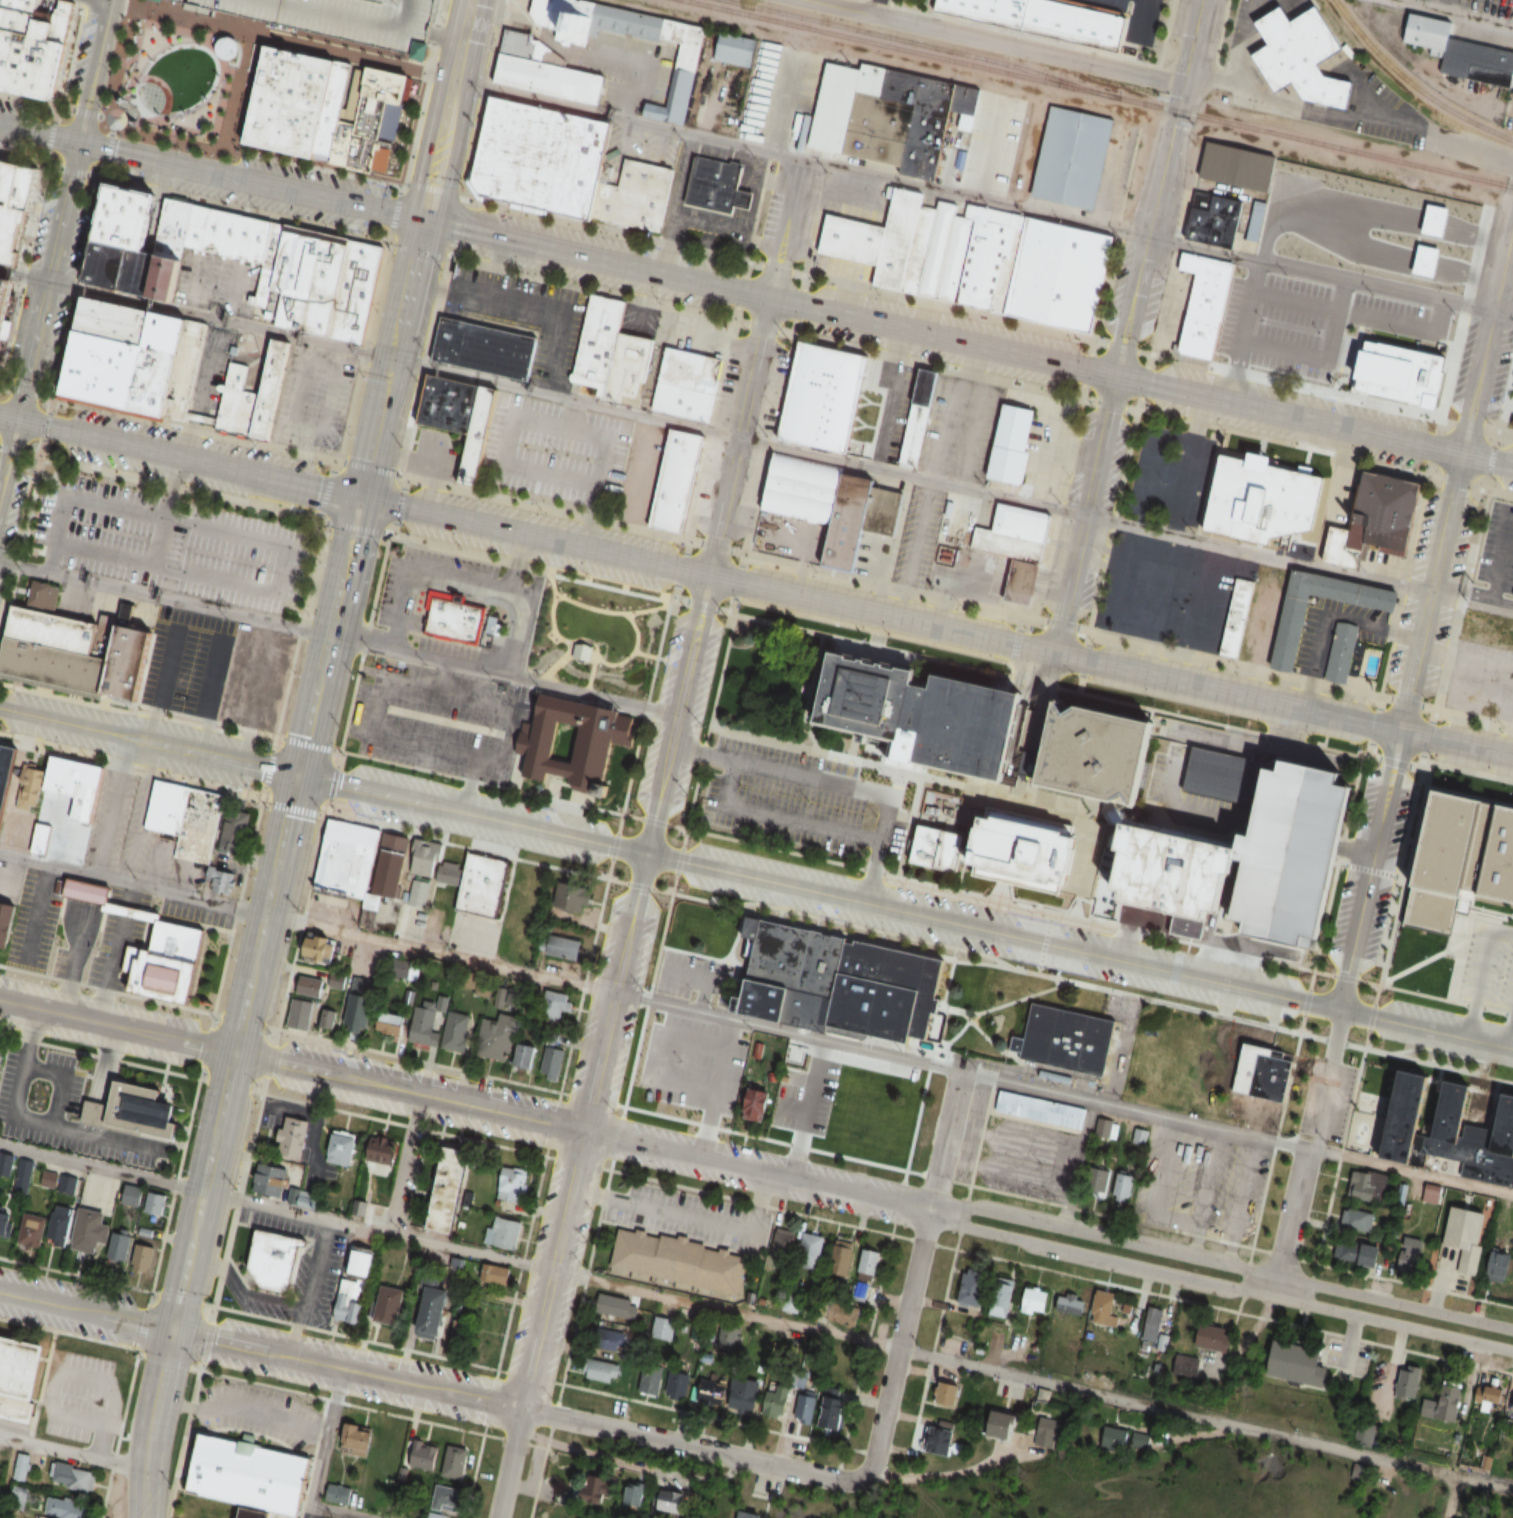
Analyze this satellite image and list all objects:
road: (102, 1)
road: (853, 4)
road: (1450, 14)
building: (356, 18)
parking lot: (356, 18)
building: (1040, 18)
building: (579, 20)
parking lot: (1133, 20)
road: (1220, 34)
road: (282, 39)
road: (996, 41)
road: (1050, 41)
railway: (912, 42)
building: (34, 44)
building: (737, 49)
building: (1457, 51)
building: (1303, 56)
road: (92, 71)
building: (680, 74)
road: (442, 76)
railway: (1411, 85)
road: (424, 92)
railway: (1097, 93)
road: (30, 99)
building: (287, 101)
building: (331, 108)
road: (446, 110)
road: (479, 113)
building: (890, 116)
building: (366, 117)
road: (37, 134)
traffic signals: (76, 143)
road: (258, 151)
building: (539, 157)
building: (1073, 157)
road: (46, 166)
building: (1236, 167)
road: (248, 181)
building: (716, 186)
road: (1157, 188)
road: (433, 190)
building: (632, 195)
road: (983, 201)
building: (16, 205)
road: (60, 211)
building: (126, 217)
traffic signals: (421, 220)
building: (1212, 221)
building: (193, 225)
building: (169, 226)
building: (231, 233)
road: (28, 242)
road: (384, 243)
road: (389, 244)
building: (907, 244)
building: (1440, 244)
road: (749, 262)
building: (136, 270)
road: (22, 274)
building: (295, 276)
building: (1063, 276)
road: (591, 285)
building: (349, 288)
building: (5, 299)
road: (767, 299)
road: (221, 302)
building: (1206, 304)
parking lot: (1295, 331)
building: (600, 345)
road: (30, 348)
building: (486, 349)
building: (123, 356)
road: (389, 358)
road: (938, 364)
building: (629, 368)
building: (1405, 372)
traffic signals: (1115, 376)
building: (681, 382)
flagpole: (1341, 385)
flagpole: (1346, 386)
road: (203, 388)
building: (250, 396)
road: (564, 396)
parking lot: (314, 400)
building: (824, 400)
building: (449, 402)
road: (7, 415)
building: (916, 416)
traffic signals: (15, 417)
road: (47, 420)
road: (1314, 420)
building: (1512, 422)
road: (711, 430)
building: (478, 435)
building: (1012, 443)
road: (7, 450)
parking lot: (436, 454)
road: (186, 456)
building: (677, 482)
road: (326, 491)
traffic signals: (358, 497)
building: (1264, 500)
building: (832, 506)
road: (545, 508)
road: (1083, 515)
building: (1378, 522)
parking lot: (172, 541)
road: (313, 543)
building: (1019, 549)
road: (740, 555)
building: (1496, 555)
road: (781, 562)
road: (530, 566)
road: (1297, 566)
road: (467, 577)
parking lot: (1172, 592)
road: (486, 596)
building: (1236, 617)
building: (452, 618)
road: (1425, 619)
building: (1487, 627)
road: (935, 628)
building: (55, 630)
park: (601, 632)
road: (327, 636)
road: (339, 638)
road: (1015, 640)
building: (1290, 640)
road: (875, 646)
building: (1341, 652)
building: (131, 664)
building: (55, 665)
road: (160, 684)
road: (259, 693)
road: (212, 696)
building: (917, 711)
building: (607, 737)
road: (504, 761)
road: (863, 762)
road: (267, 765)
road: (130, 766)
building: (4, 767)
traffic signals: (298, 776)
road: (828, 782)
road: (470, 784)
road: (662, 784)
building: (66, 785)
road: (111, 799)
road: (587, 805)
parking lot: (802, 805)
building: (1131, 808)
road: (621, 813)
road: (775, 817)
road: (688, 818)
road: (654, 821)
road: (686, 828)
building: (199, 830)
building: (41, 839)
road: (613, 844)
building: (936, 847)
building: (1032, 851)
building: (1298, 852)
parking lot: (1298, 852)
building: (1461, 858)
building: (345, 859)
road: (678, 859)
road: (1375, 870)
road: (309, 871)
road: (607, 876)
road: (756, 878)
road: (132, 884)
road: (639, 884)
road: (671, 891)
building: (89, 892)
building: (566, 895)
road: (1014, 901)
road: (265, 914)
road: (1050, 914)
building: (7, 922)
road: (1389, 940)
road: (1043, 941)
building: (565, 948)
building: (322, 949)
road: (976, 952)
road: (1239, 952)
road: (440, 953)
road: (1485, 959)
building: (166, 962)
road: (975, 962)
road: (1037, 968)
parking lot: (1488, 969)
road: (1314, 970)
road: (1346, 976)
building: (320, 982)
building: (838, 983)
road: (1377, 983)
road: (582, 988)
road: (1306, 1001)
building: (358, 1007)
building: (299, 1015)
road: (1371, 1015)
building: (327, 1018)
road: (1241, 1018)
road: (1471, 1022)
building: (428, 1023)
building: (393, 1024)
road: (1301, 1024)
road: (116, 1026)
building: (457, 1031)
building: (673, 1031)
building: (699, 1033)
road: (1510, 1035)
building: (498, 1037)
building: (1066, 1040)
building: (735, 1043)
road: (1297, 1045)
building: (525, 1056)
building: (830, 1058)
building: (803, 1062)
building: (2, 1064)
building: (554, 1064)
building: (1264, 1073)
road: (1498, 1077)
road: (101, 1080)
road: (20, 1081)
road: (1325, 1081)
building: (905, 1082)
building: (838, 1088)
building: (662, 1090)
building: (723, 1094)
road: (1063, 1096)
building: (759, 1106)
building: (145, 1107)
building: (1040, 1111)
road: (665, 1114)
building: (863, 1119)
road: (61, 1127)
building: (1100, 1127)
building: (1444, 1128)
road: (580, 1132)
building: (895, 1132)
building: (293, 1137)
building: (341, 1149)
building: (382, 1150)
road: (402, 1164)
road: (101, 1169)
road: (908, 1170)
road: (938, 1176)
building: (1100, 1178)
building: (271, 1179)
road: (961, 1182)
building: (1123, 1182)
building: (511, 1186)
building: (1367, 1186)
road: (968, 1191)
building: (1399, 1194)
building: (1432, 1194)
building: (451, 1195)
building: (304, 1199)
road: (1106, 1214)
building: (1357, 1220)
building: (6, 1221)
building: (61, 1224)
road: (1289, 1224)
building: (31, 1229)
building: (91, 1230)
building: (504, 1232)
building: (1466, 1236)
building: (783, 1241)
building: (122, 1244)
road: (1319, 1244)
building: (810, 1251)
building: (1359, 1253)
building: (1411, 1255)
building: (144, 1257)
building: (842, 1257)
building: (271, 1258)
building: (679, 1260)
building: (364, 1263)
road: (1220, 1264)
building: (1501, 1266)
road: (550, 1270)
building: (866, 1272)
building: (495, 1273)
road: (913, 1275)
road: (181, 1284)
road: (1218, 1285)
building: (973, 1287)
building: (1003, 1292)
building: (351, 1301)
building: (390, 1304)
building: (1069, 1304)
building: (622, 1308)
building: (1103, 1309)
road: (85, 1311)
building: (437, 1311)
building: (1151, 1323)
building: (662, 1327)
traffic signals: (171, 1330)
building: (462, 1335)
building: (1213, 1337)
building: (608, 1340)
building: (1299, 1363)
building: (1184, 1367)
road: (346, 1369)
building: (601, 1370)
road: (54, 1376)
building: (21, 1377)
building: (650, 1379)
building: (1408, 1382)
building: (679, 1384)
building: (712, 1391)
building: (947, 1393)
building: (744, 1394)
building: (1487, 1397)
building: (777, 1400)
building: (1443, 1404)
building: (805, 1406)
building: (833, 1412)
road: (1205, 1419)
building: (999, 1425)
road: (133, 1431)
building: (1045, 1433)
building: (1365, 1435)
building: (358, 1439)
building: (1122, 1439)
building: (938, 1441)
road: (72, 1447)
road: (692, 1448)
building: (422, 1455)
road: (320, 1462)
building: (456, 1463)
road: (509, 1463)
building: (22, 1466)
building: (1356, 1472)
building: (245, 1473)
road: (941, 1476)
building: (71, 1477)
building: (602, 1485)
building: (339, 1494)
building: (635, 1494)
building: (376, 1500)
building: (447, 1501)
building: (672, 1502)
building: (64, 1508)
building: (748, 1514)
road: (269, 1515)
parking lot: (313, 1515)
parking lot: (272, 1517)
building: (1455, 1517)

